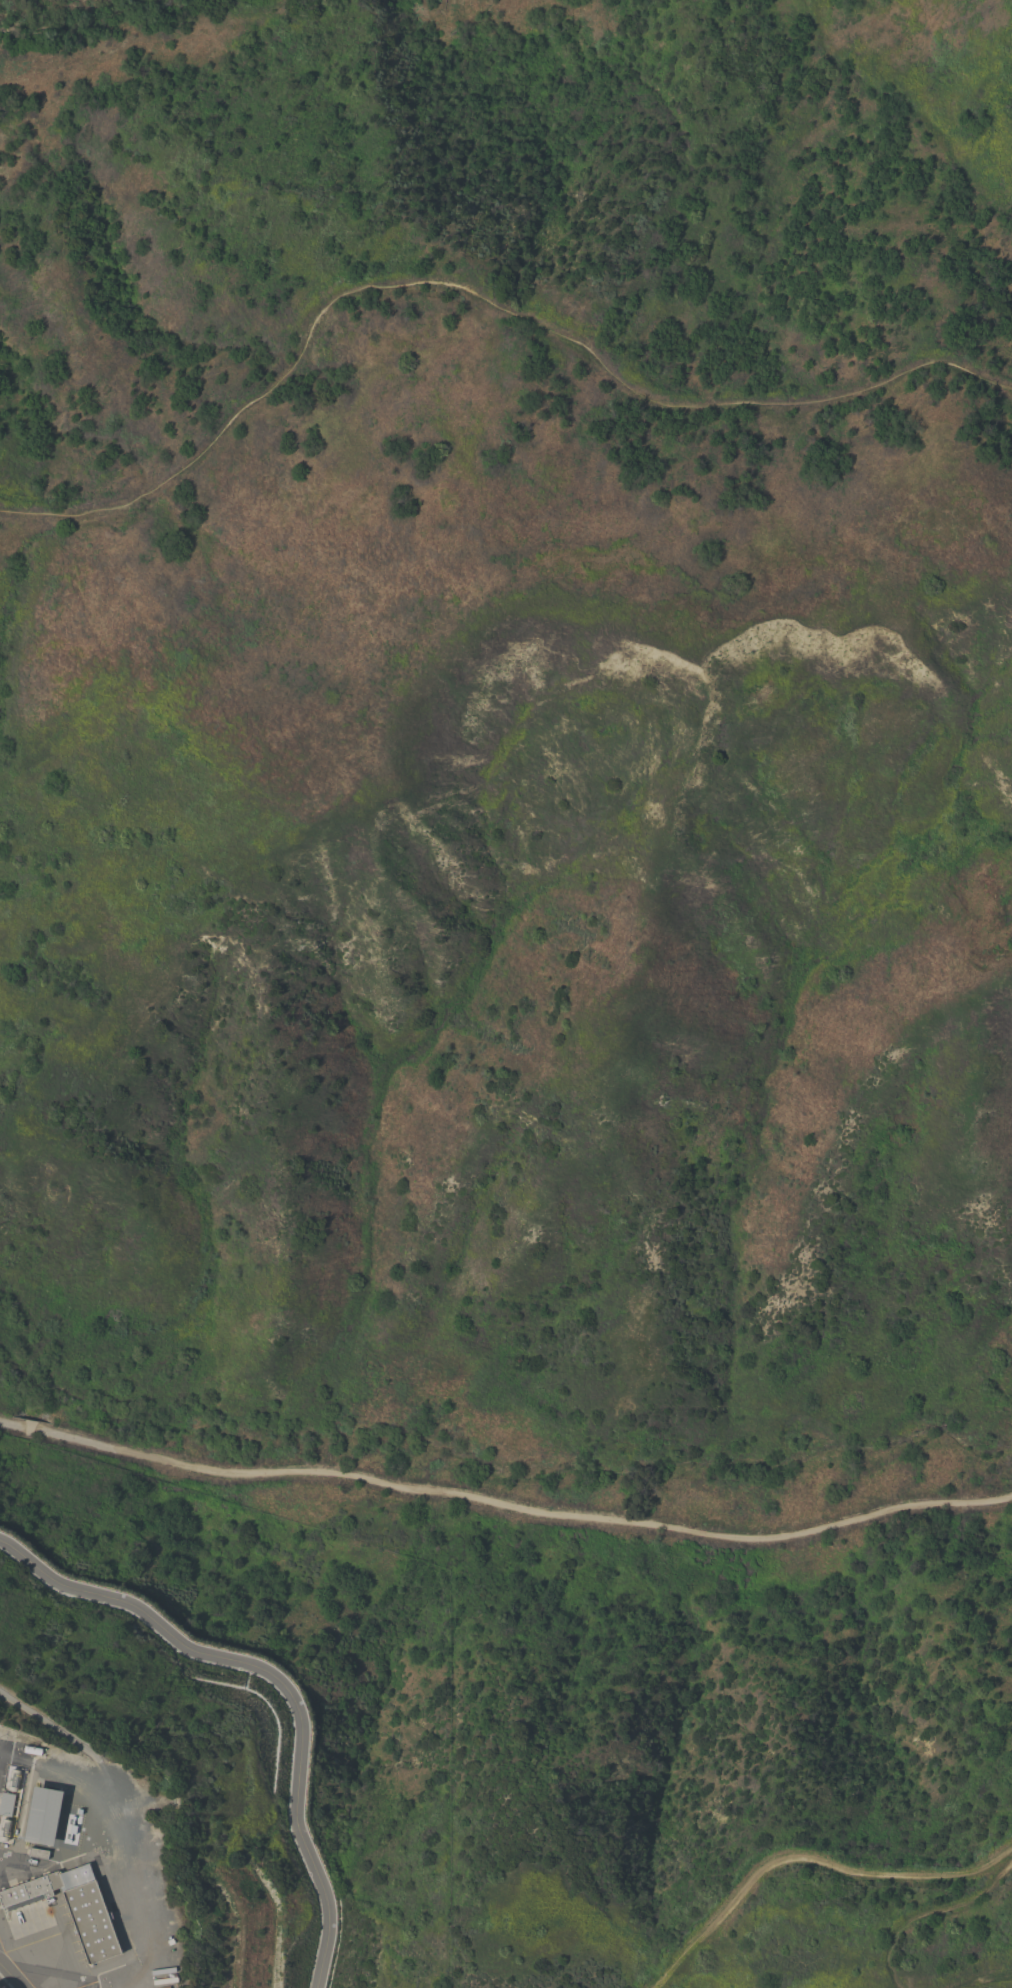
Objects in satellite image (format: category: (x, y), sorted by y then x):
road: (4, 1423)
road: (16, 1425)
road: (29, 1428)
road: (41, 1430)
road: (529, 1509)
road: (281, 1680)
building: (6, 1805)
building: (42, 1817)
road: (812, 1861)
building: (72, 1909)
road: (8, 1983)

